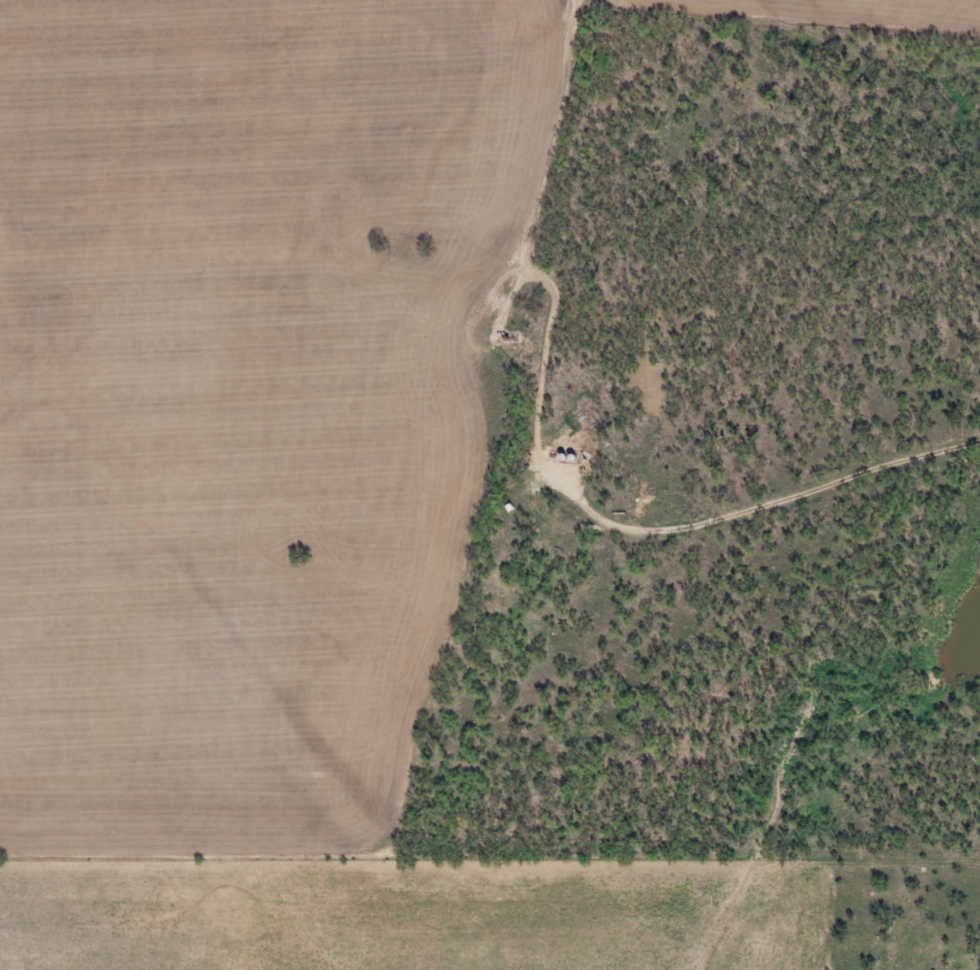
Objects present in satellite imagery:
road: (532, 371)

